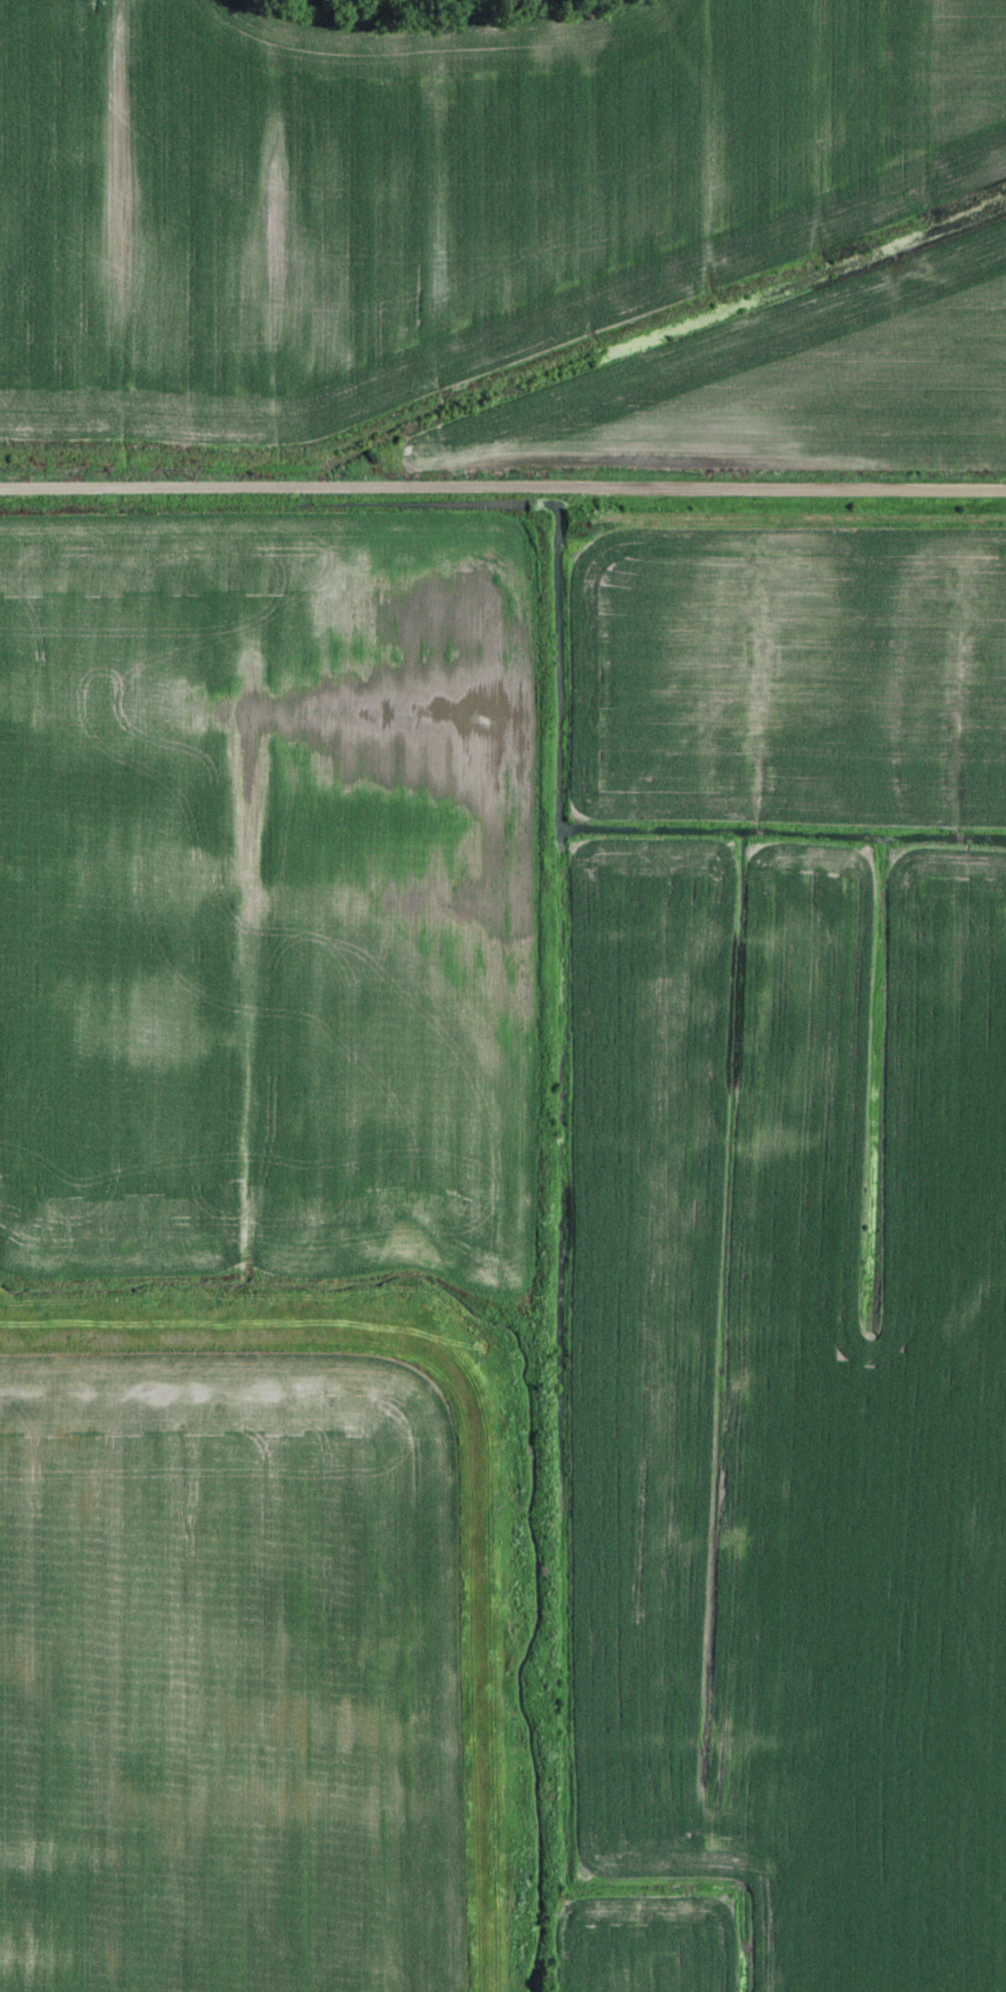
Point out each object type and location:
road: (503, 487)

